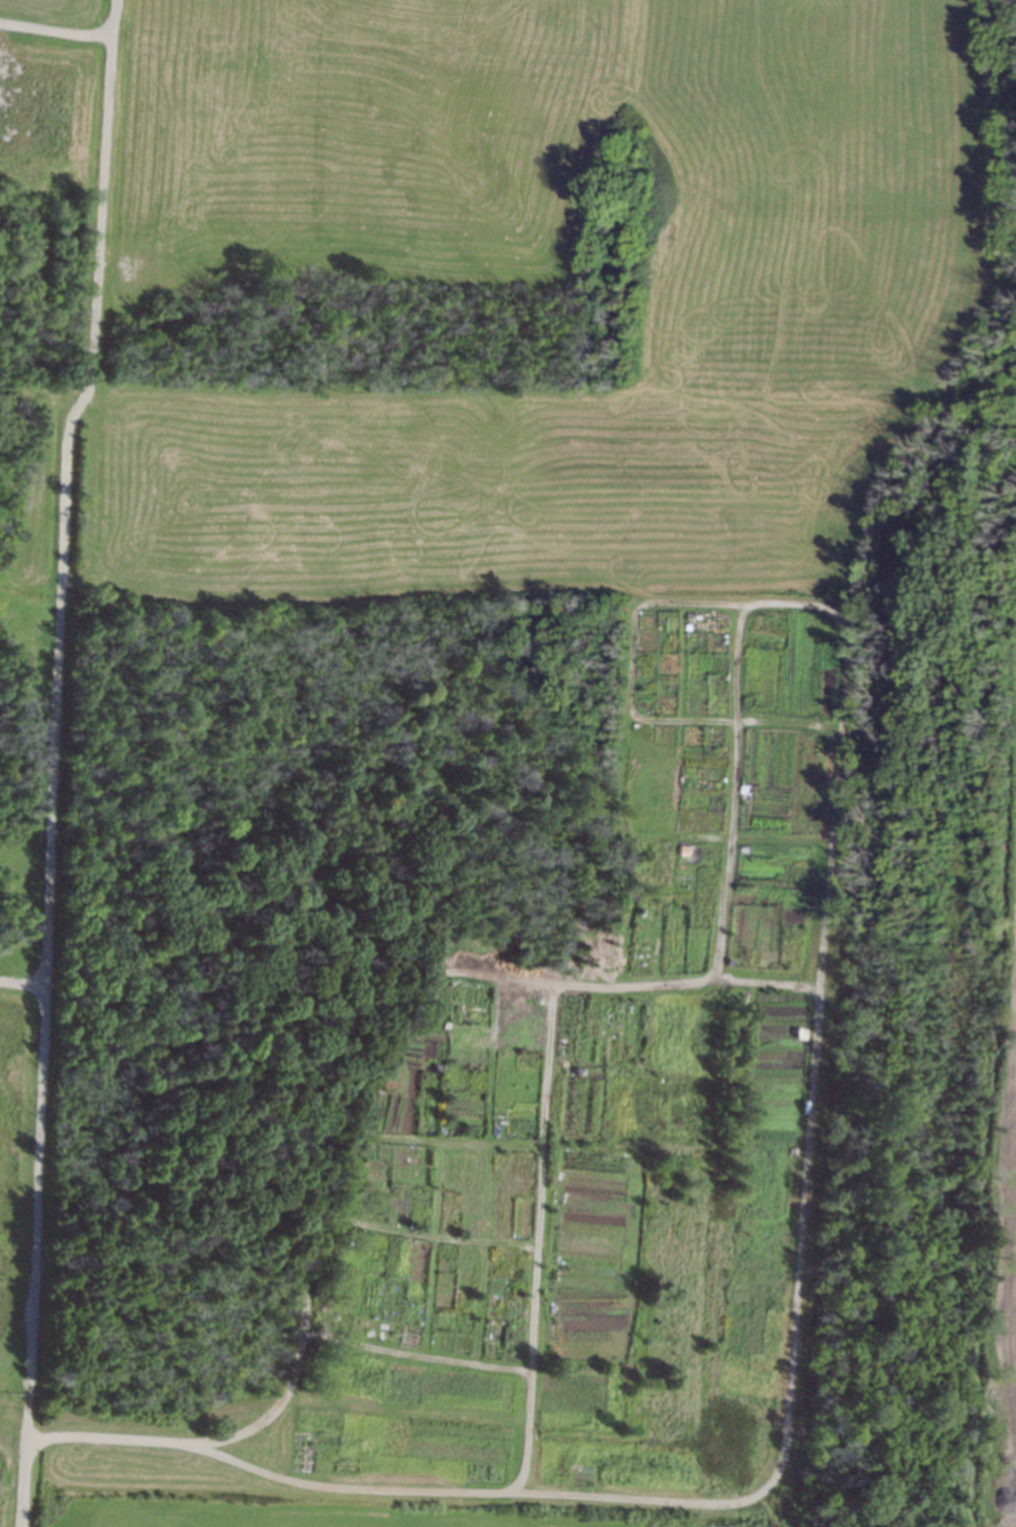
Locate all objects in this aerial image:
road: (57, 32)
road: (841, 672)
road: (52, 760)
road: (765, 981)
road: (21, 984)
road: (1009, 1231)
road: (538, 1238)
road: (413, 1354)

